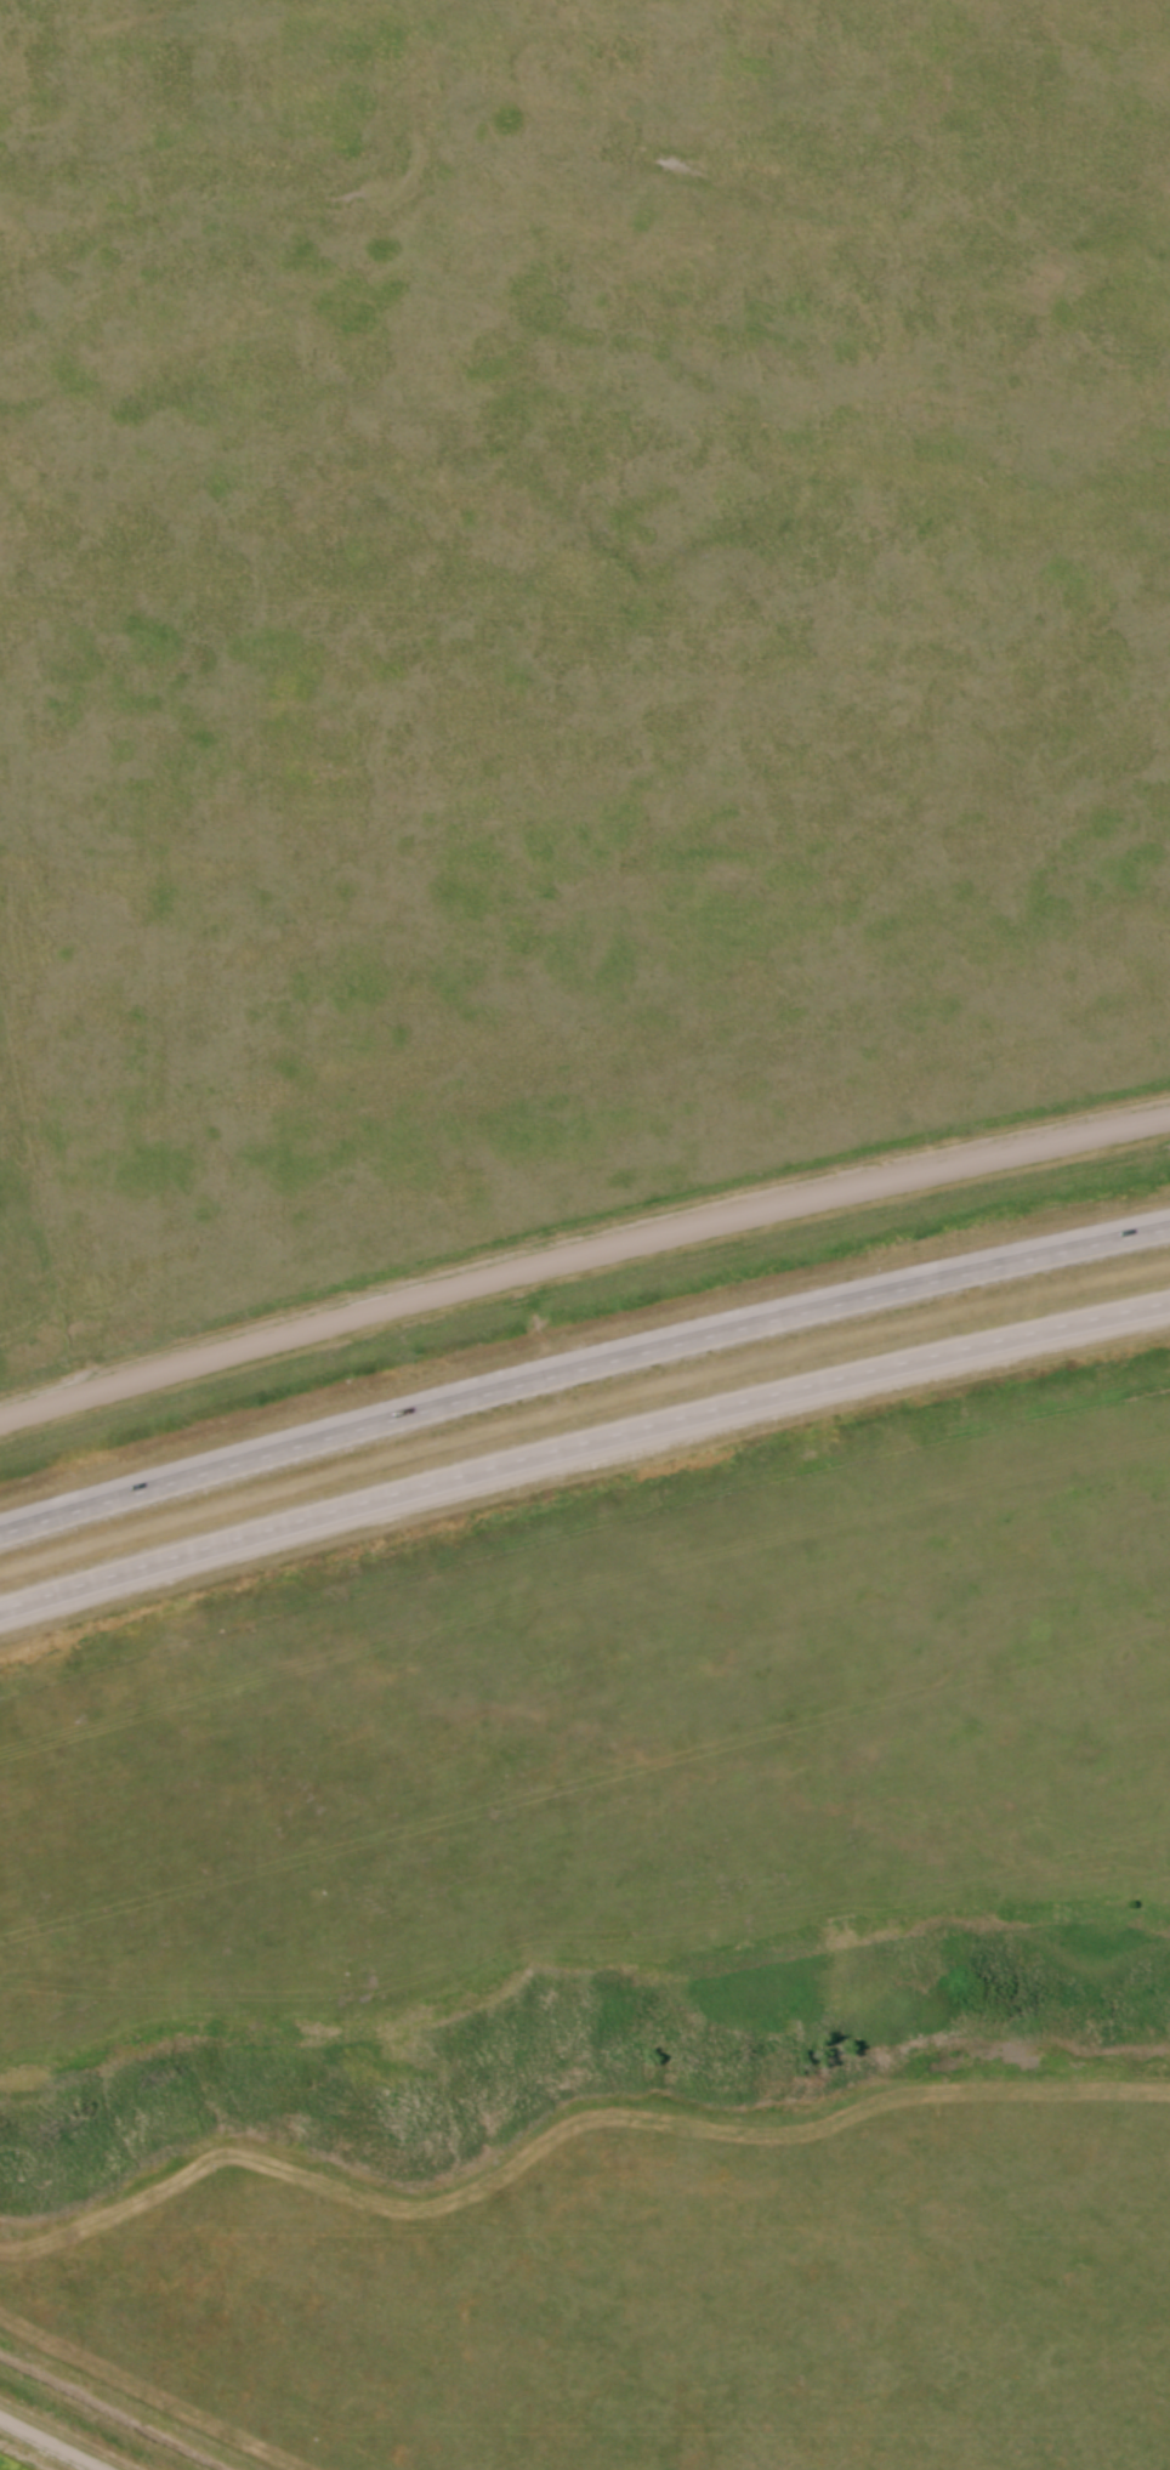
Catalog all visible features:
road: (580, 1255)
road: (581, 1367)
road: (581, 1443)
road: (47, 2445)

